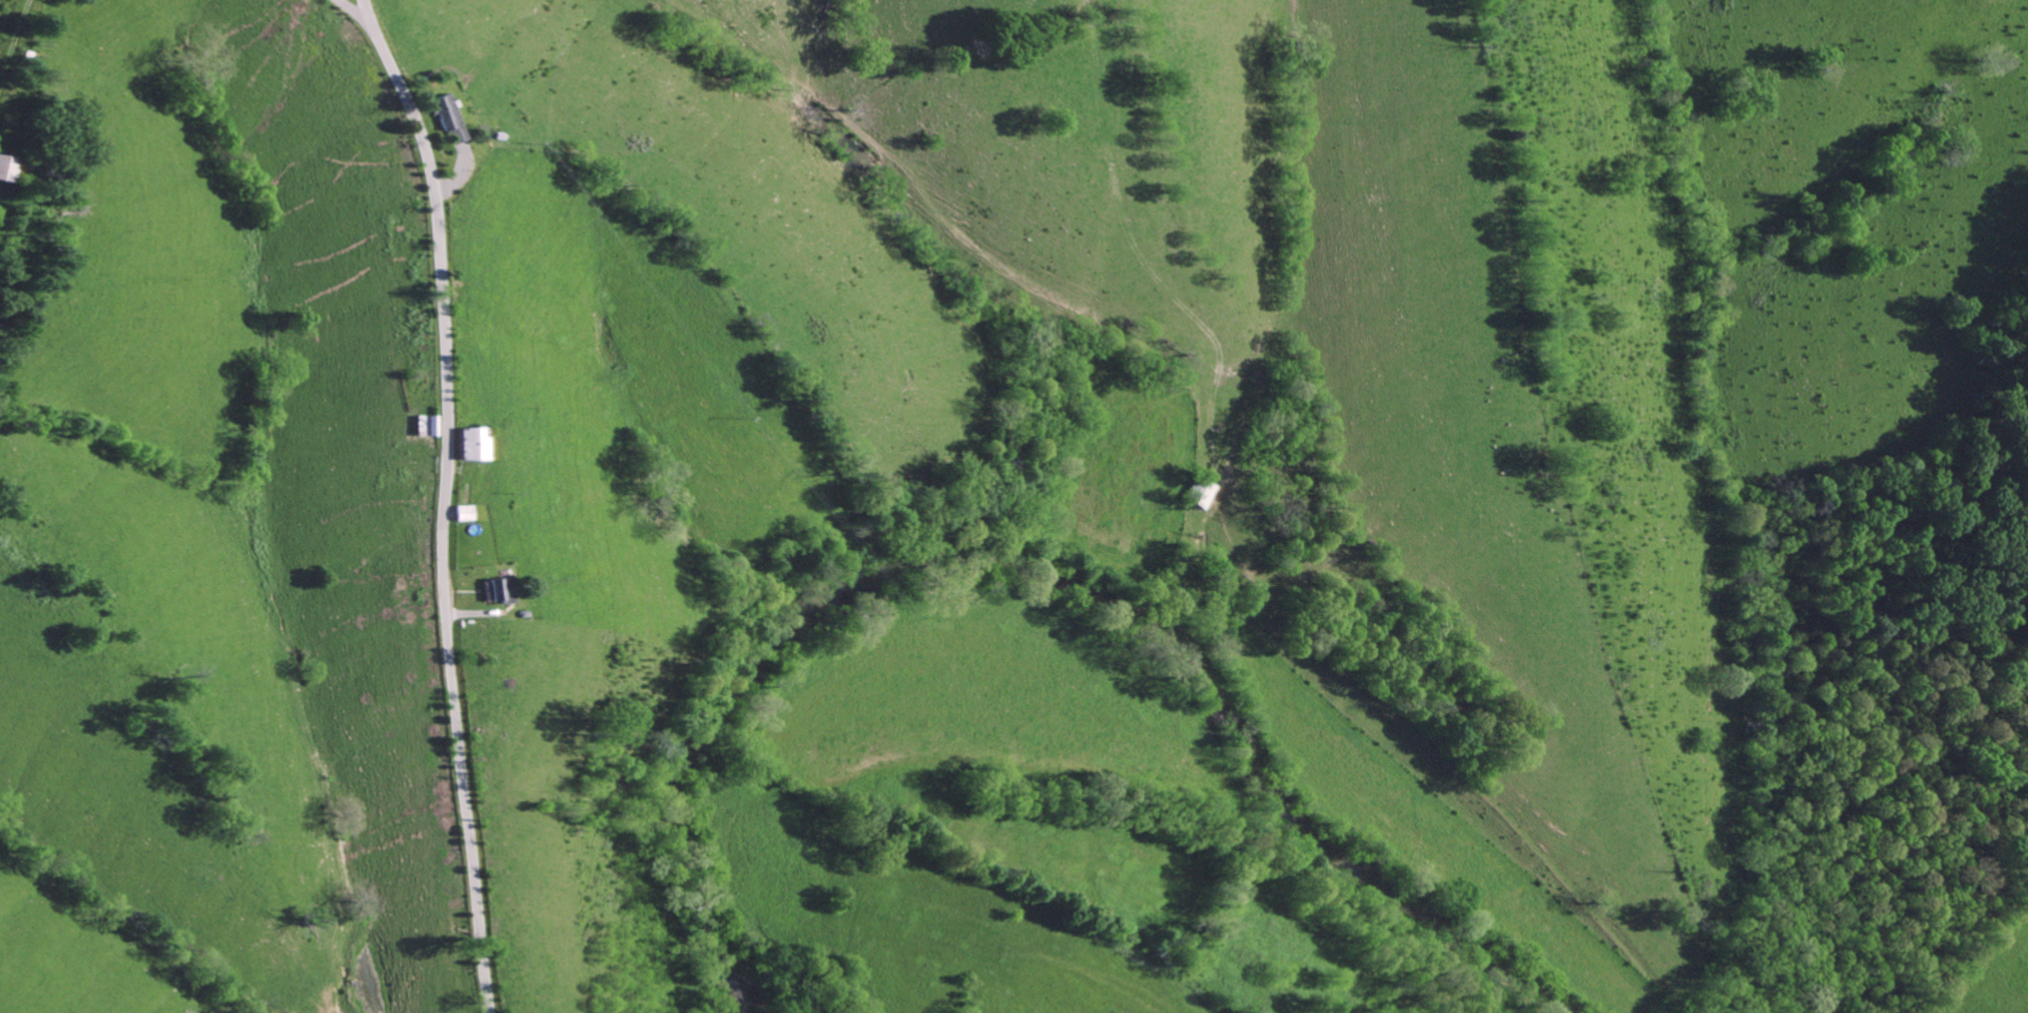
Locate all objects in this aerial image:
road: (350, 13)
building: (447, 119)
building: (7, 169)
building: (423, 425)
building: (469, 443)
road: (442, 501)
building: (496, 590)

